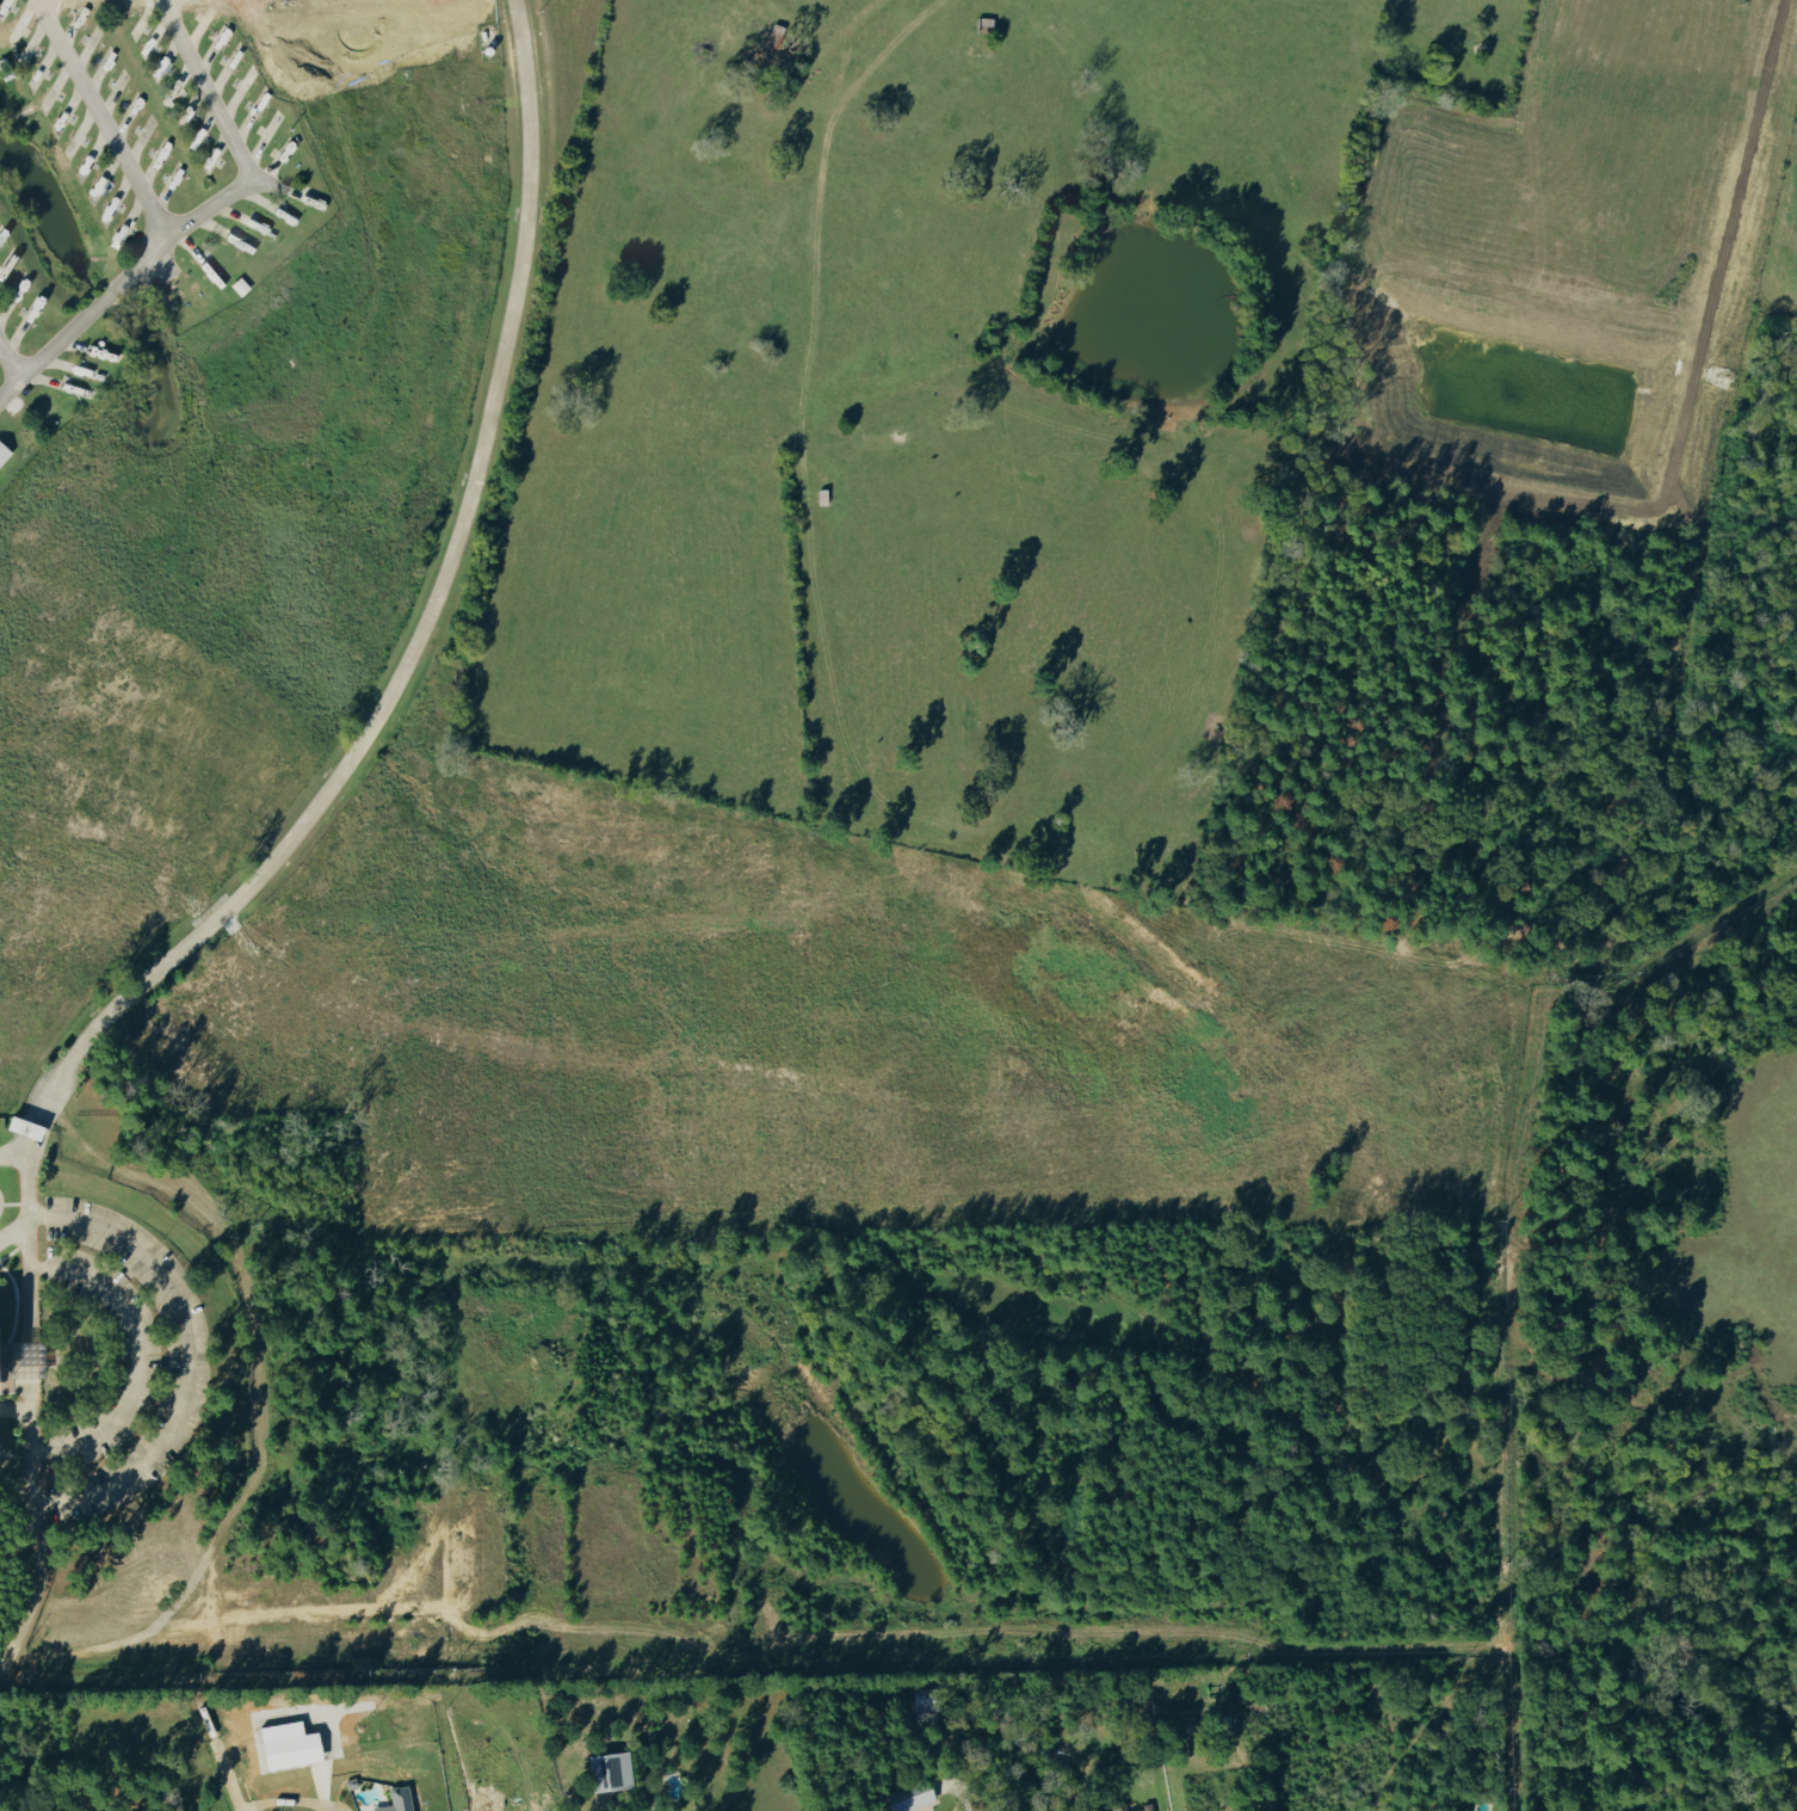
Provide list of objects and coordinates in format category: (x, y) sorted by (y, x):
road: (841, 56)
road: (111, 119)
road: (199, 223)
building: (237, 285)
road: (11, 382)
building: (2, 454)
road: (283, 846)
building: (18, 1126)
road: (14, 1154)
road: (13, 1230)
road: (184, 1353)
road: (132, 1354)
road: (4, 1655)
building: (606, 1770)
building: (394, 1799)
road: (963, 1801)
road: (295, 1806)
building: (1131, 1807)

